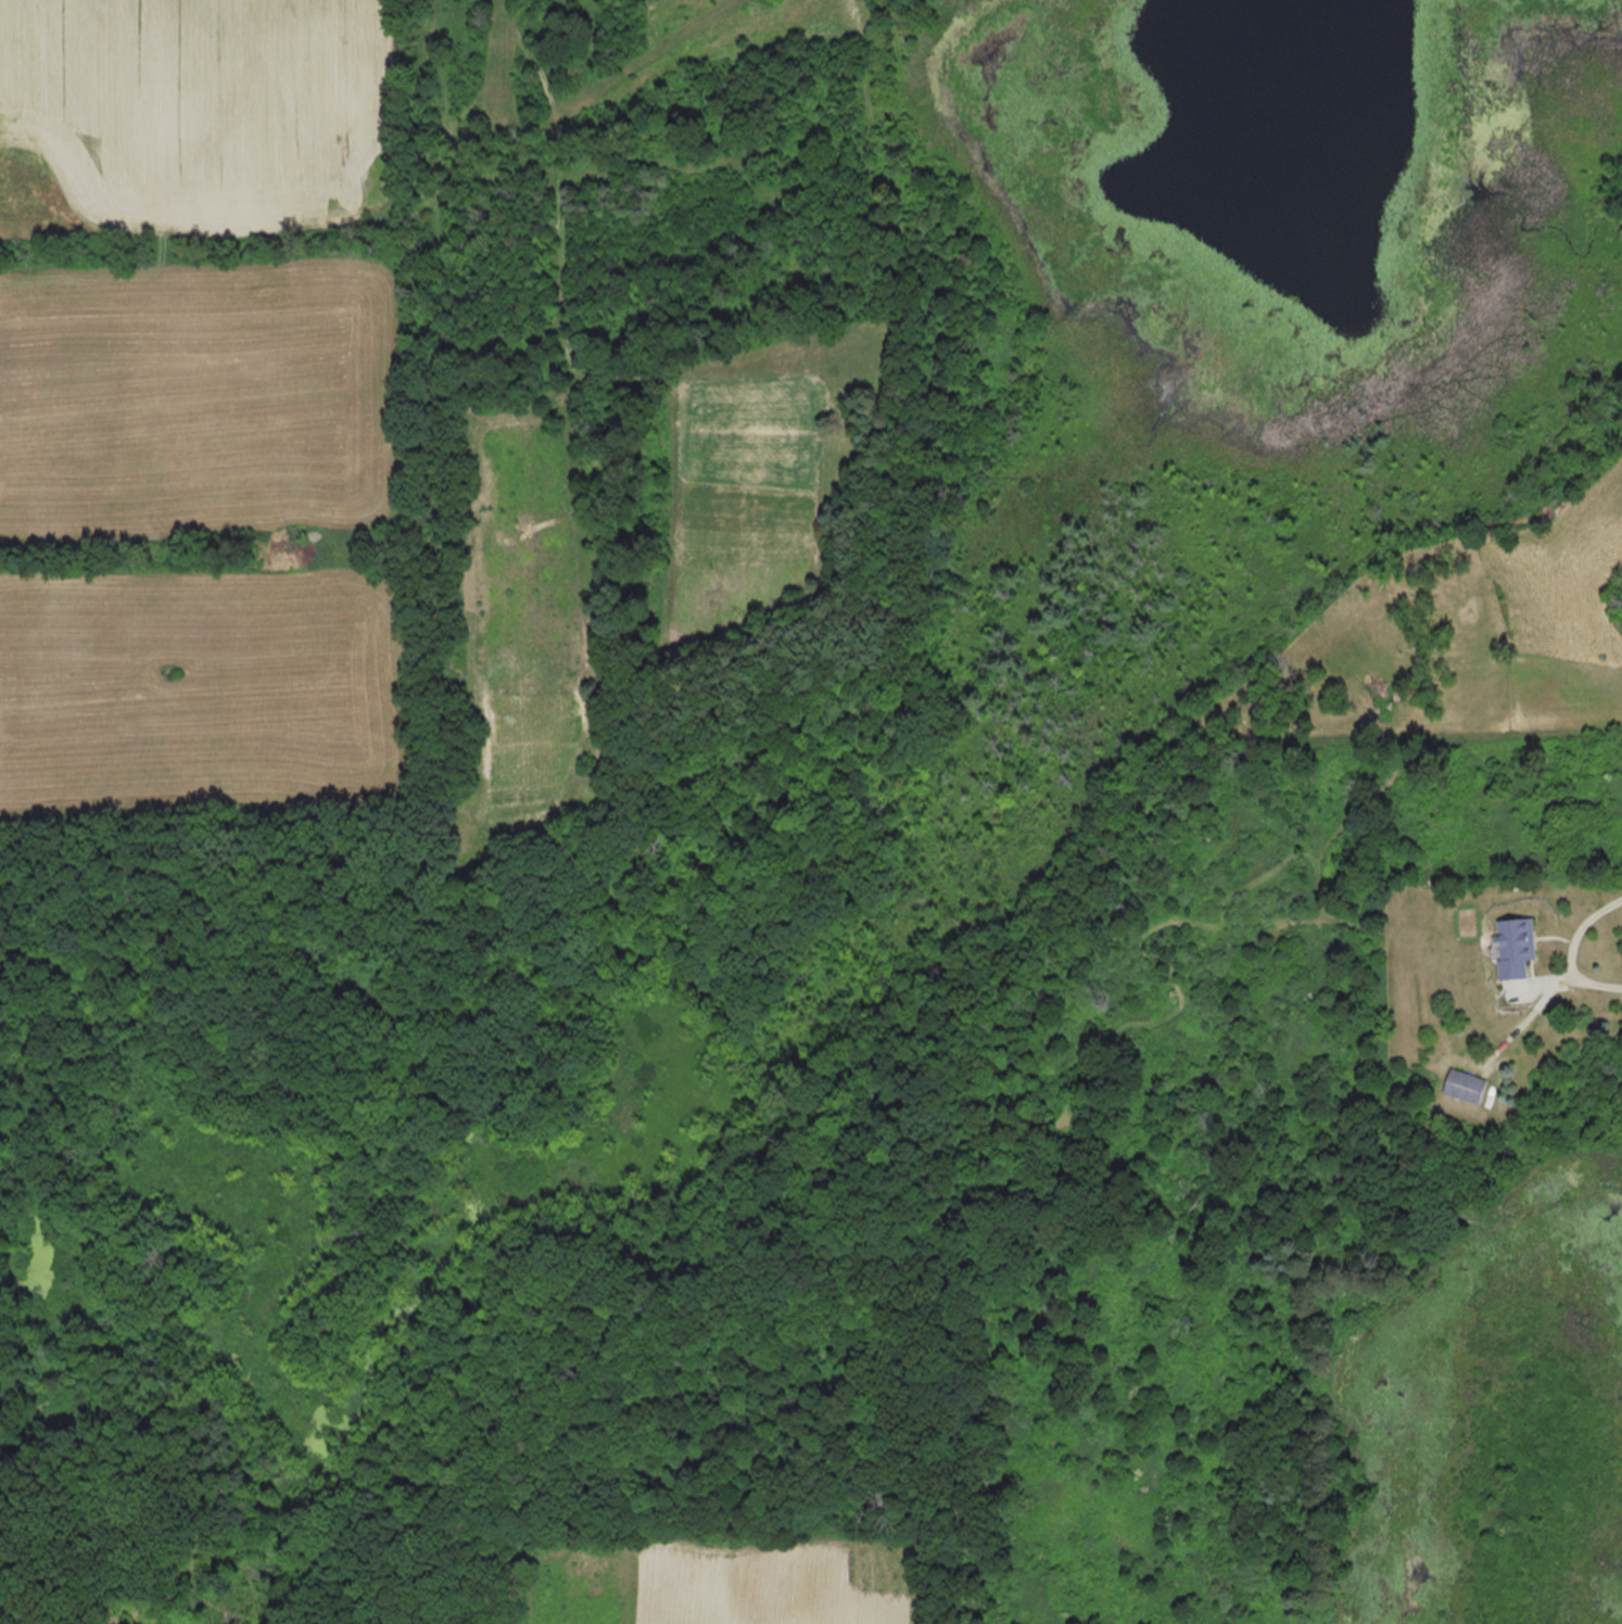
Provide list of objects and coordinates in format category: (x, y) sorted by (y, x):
building: (1518, 947)
road: (1570, 951)
building: (1467, 1086)

